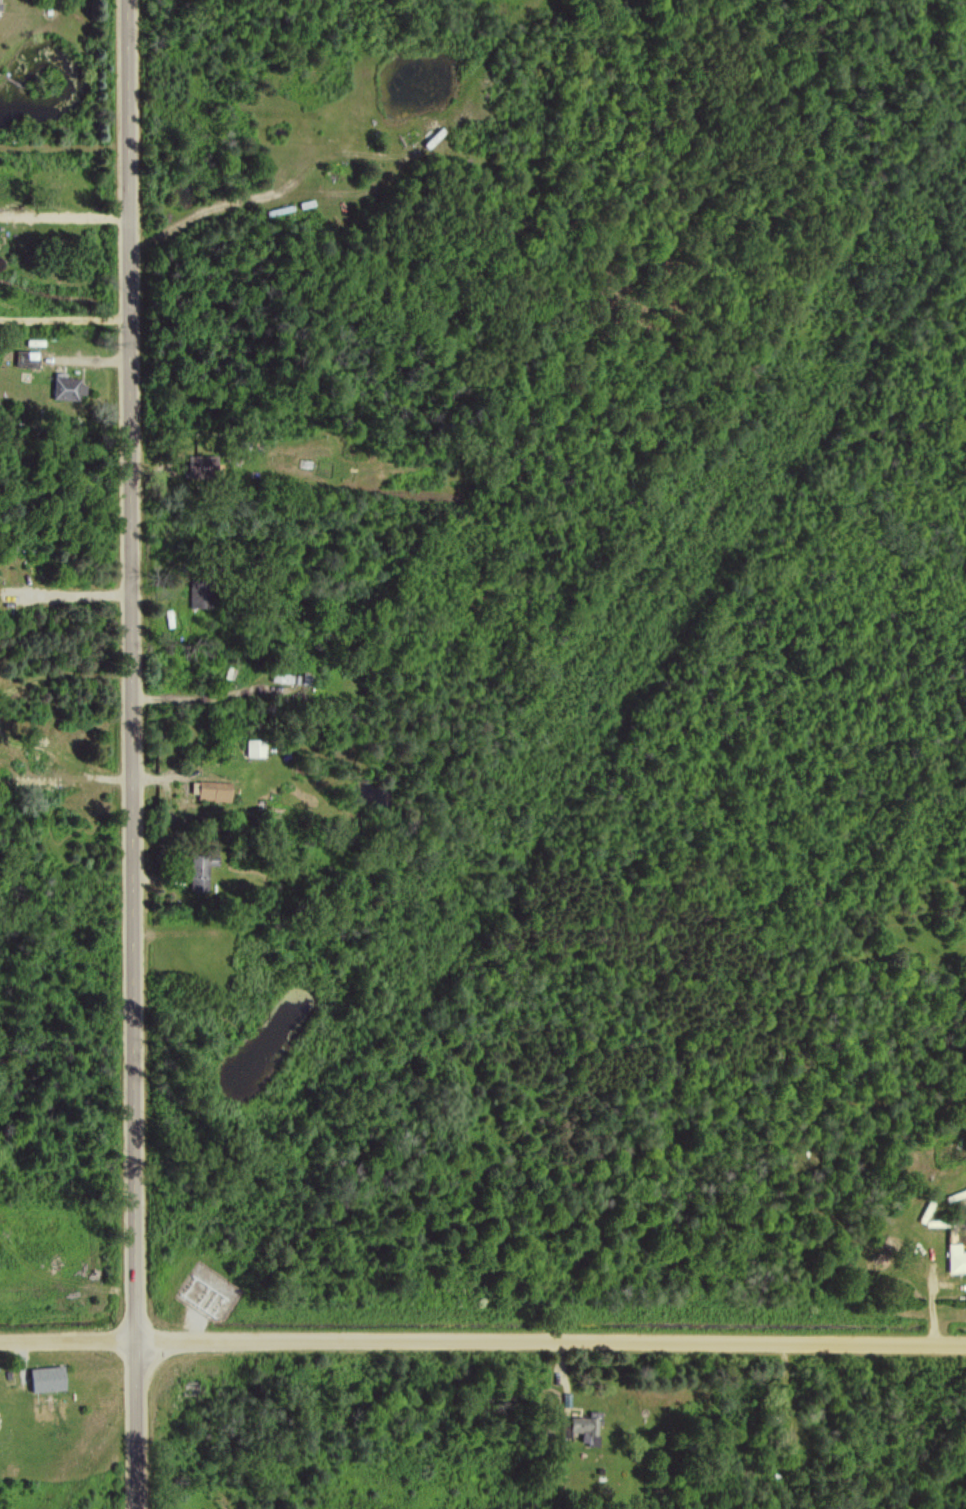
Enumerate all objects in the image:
road: (63, 216)
road: (63, 320)
building: (68, 387)
building: (200, 464)
road: (69, 593)
building: (200, 593)
building: (255, 747)
road: (130, 754)
building: (209, 789)
building: (200, 870)
building: (956, 1258)
road: (933, 1302)
road: (482, 1345)
building: (46, 1379)
building: (586, 1427)

